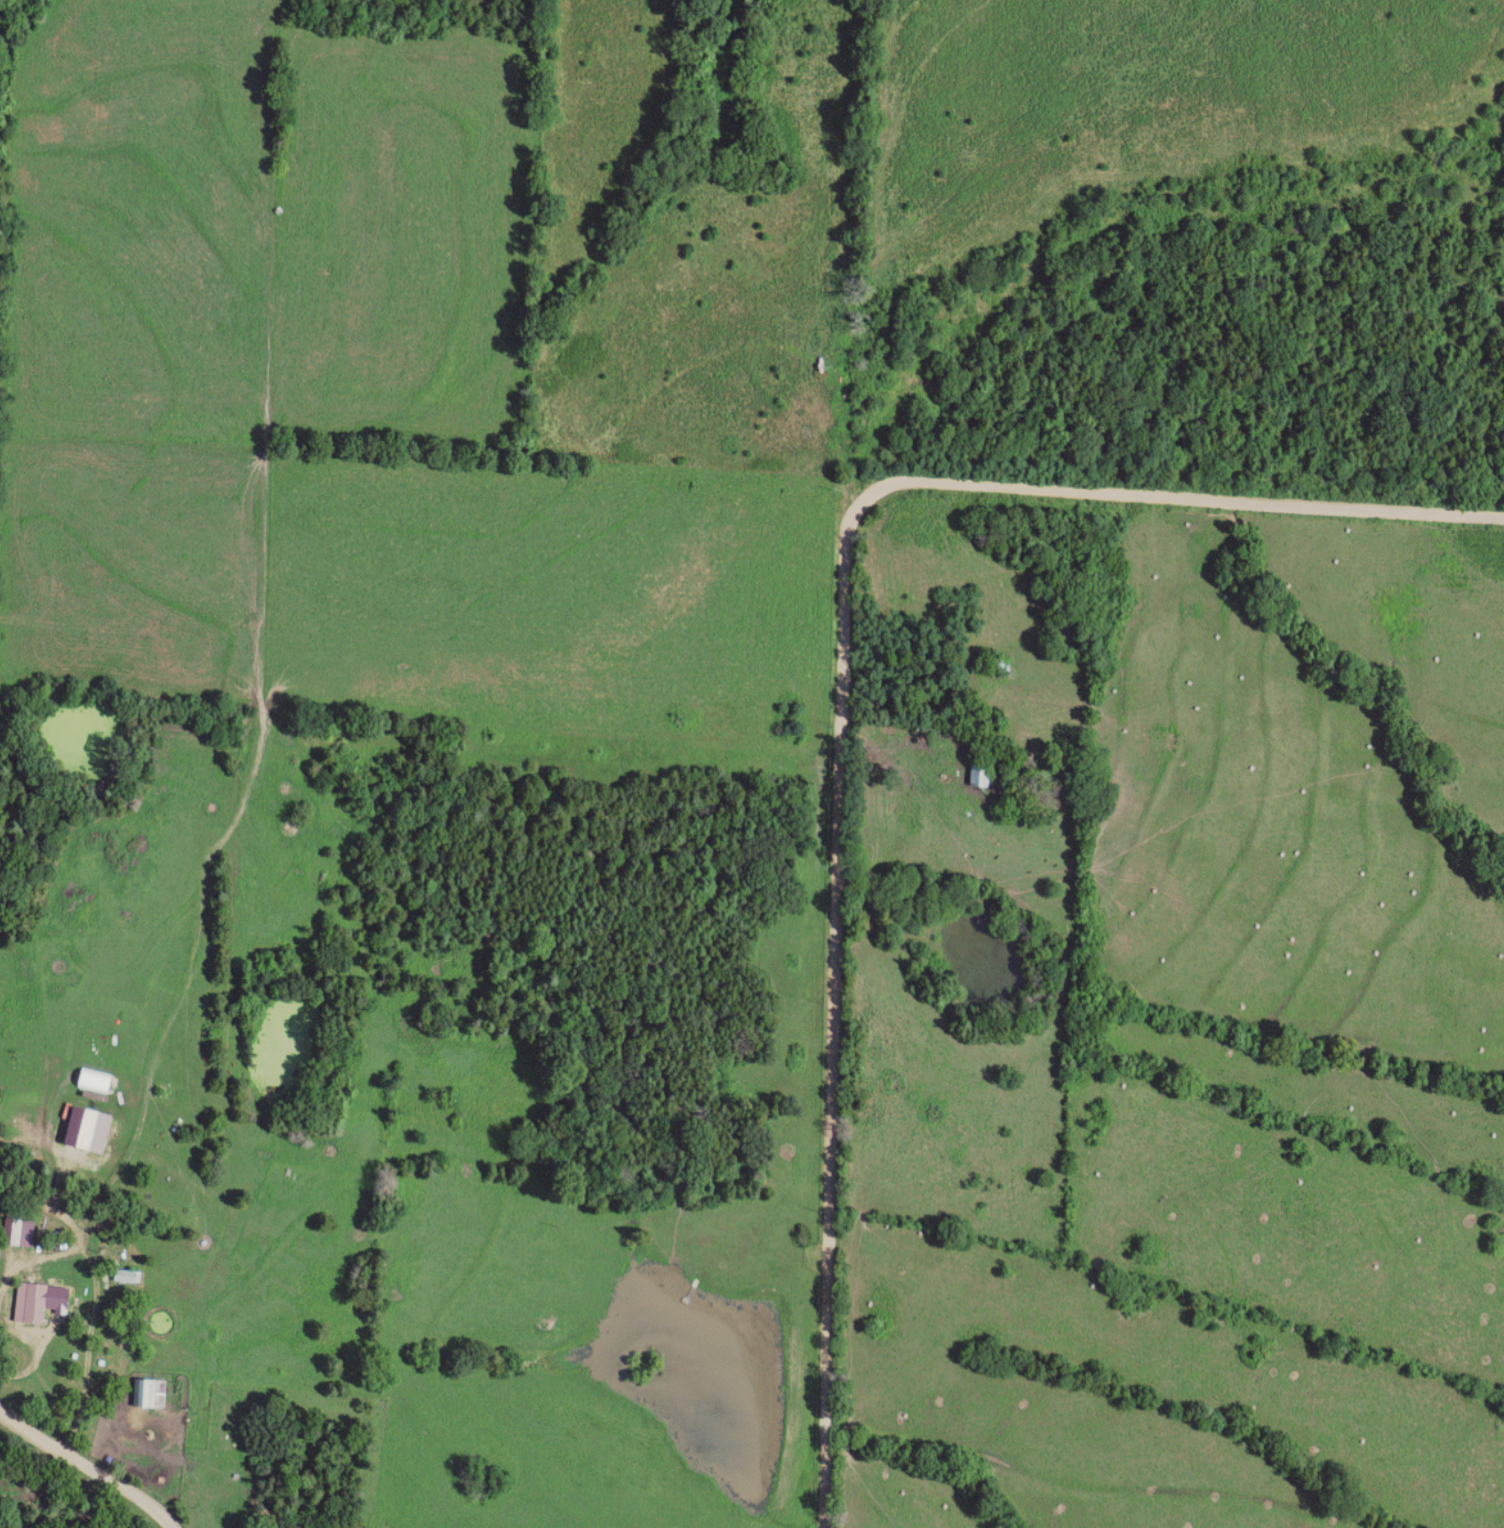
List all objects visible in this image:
road: (845, 687)
building: (983, 773)
building: (22, 1231)
building: (130, 1275)
building: (44, 1300)
road: (89, 1316)
building: (153, 1393)
road: (90, 1464)

